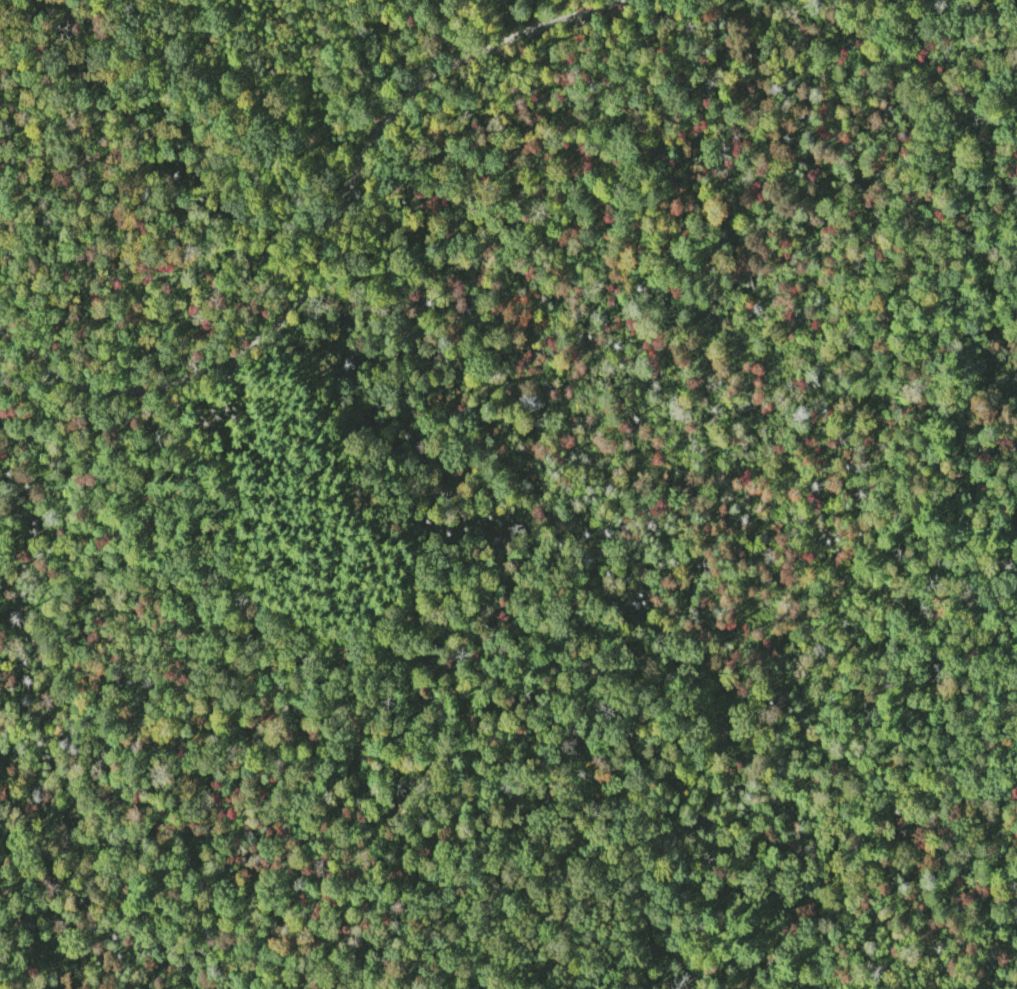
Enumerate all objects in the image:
road: (325, 247)

